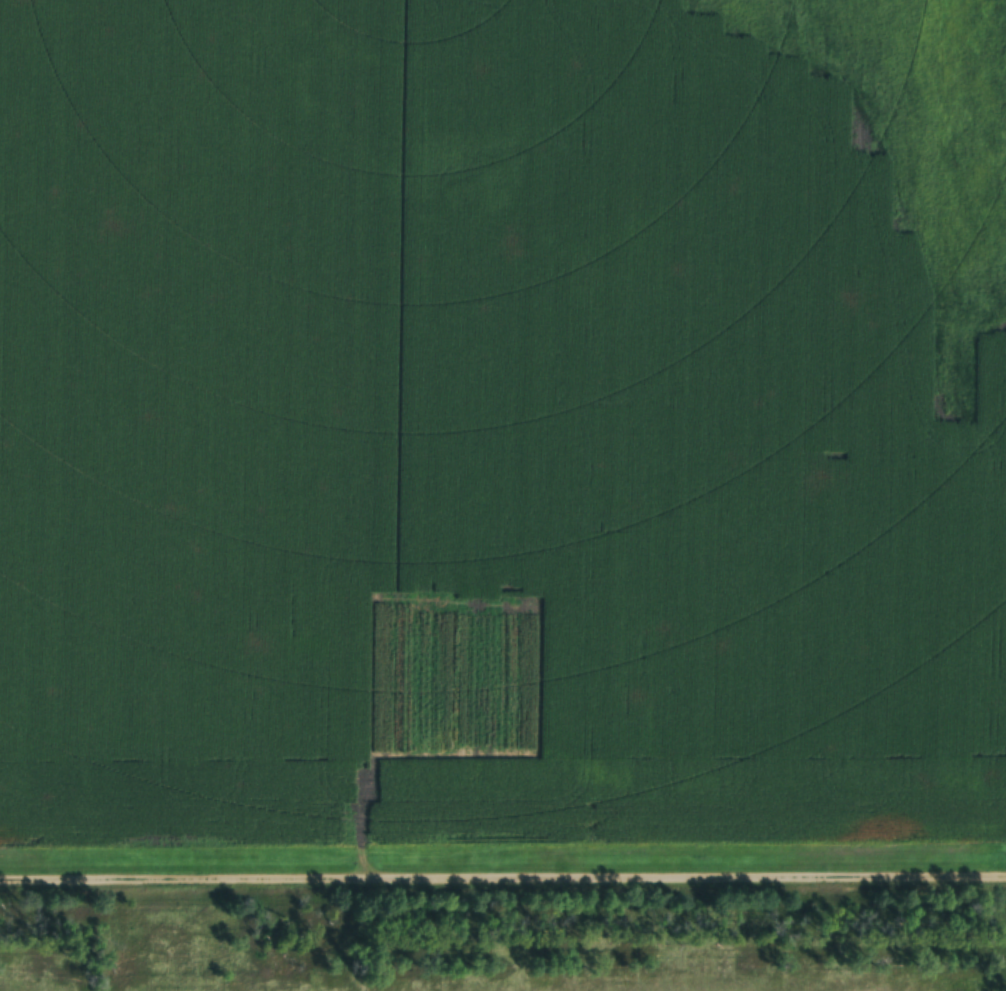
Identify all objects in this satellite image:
road: (503, 876)

